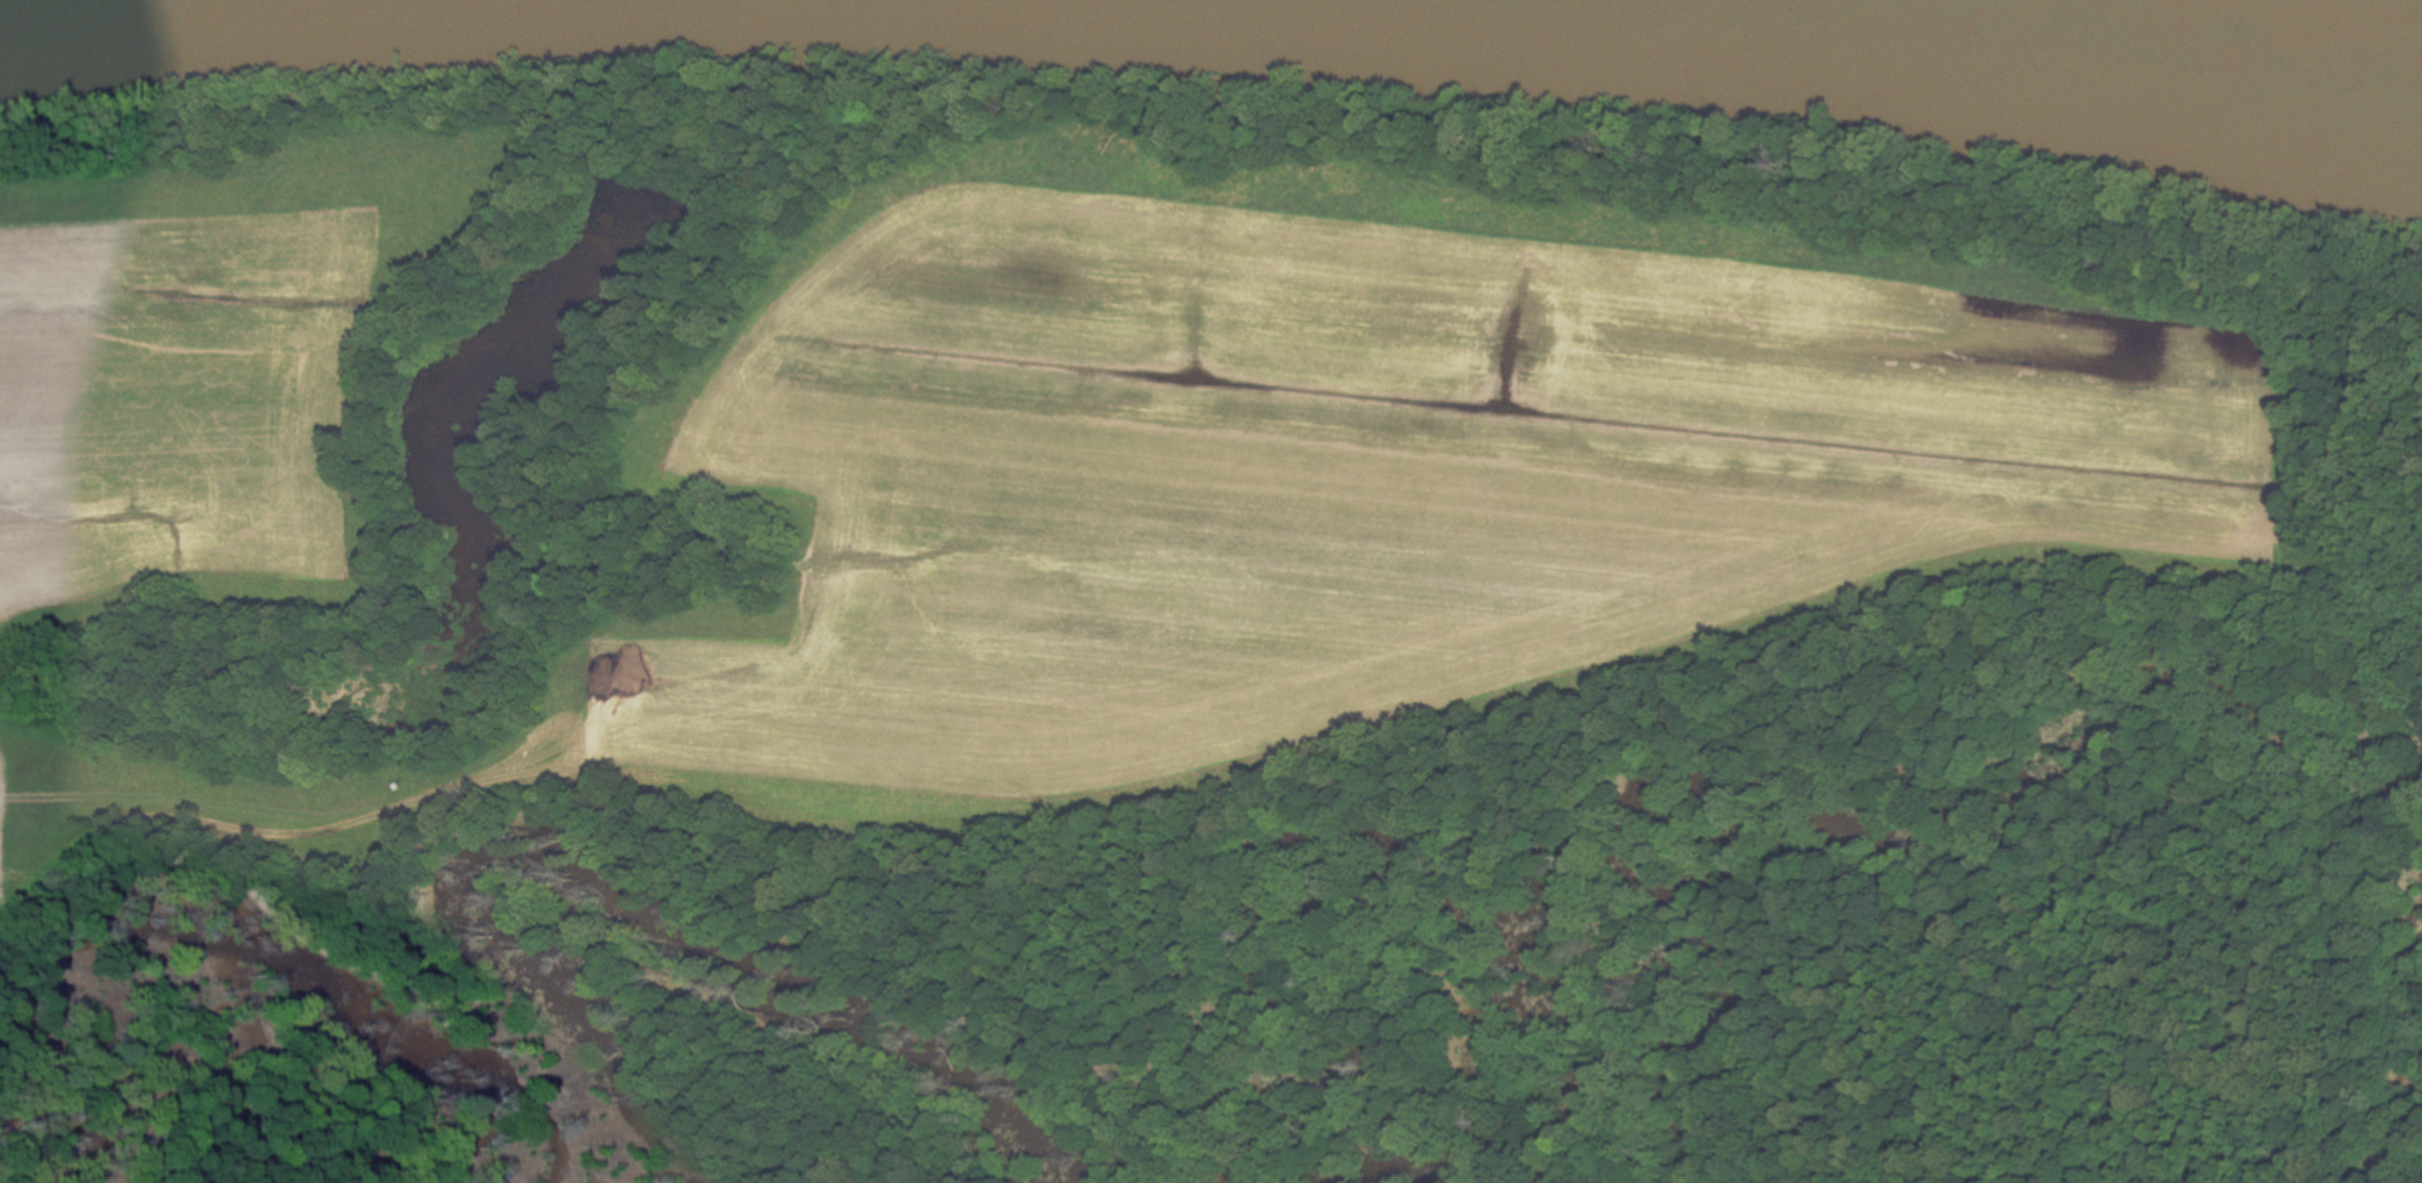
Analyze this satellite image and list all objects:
river: (2140, 30)

